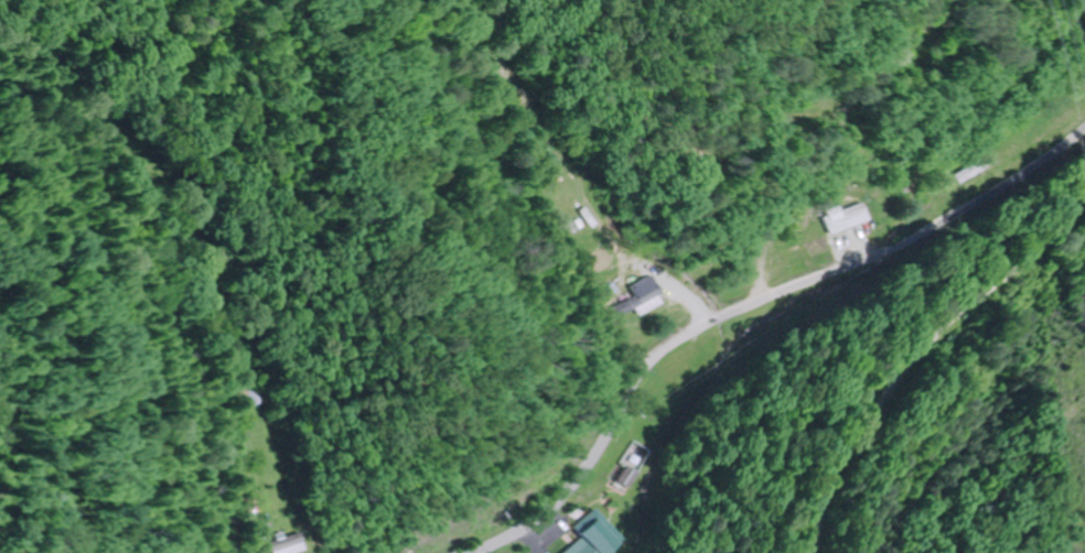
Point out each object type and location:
building: (842, 218)
building: (640, 295)
road: (750, 304)
building: (250, 398)
building: (289, 544)
building: (581, 547)

